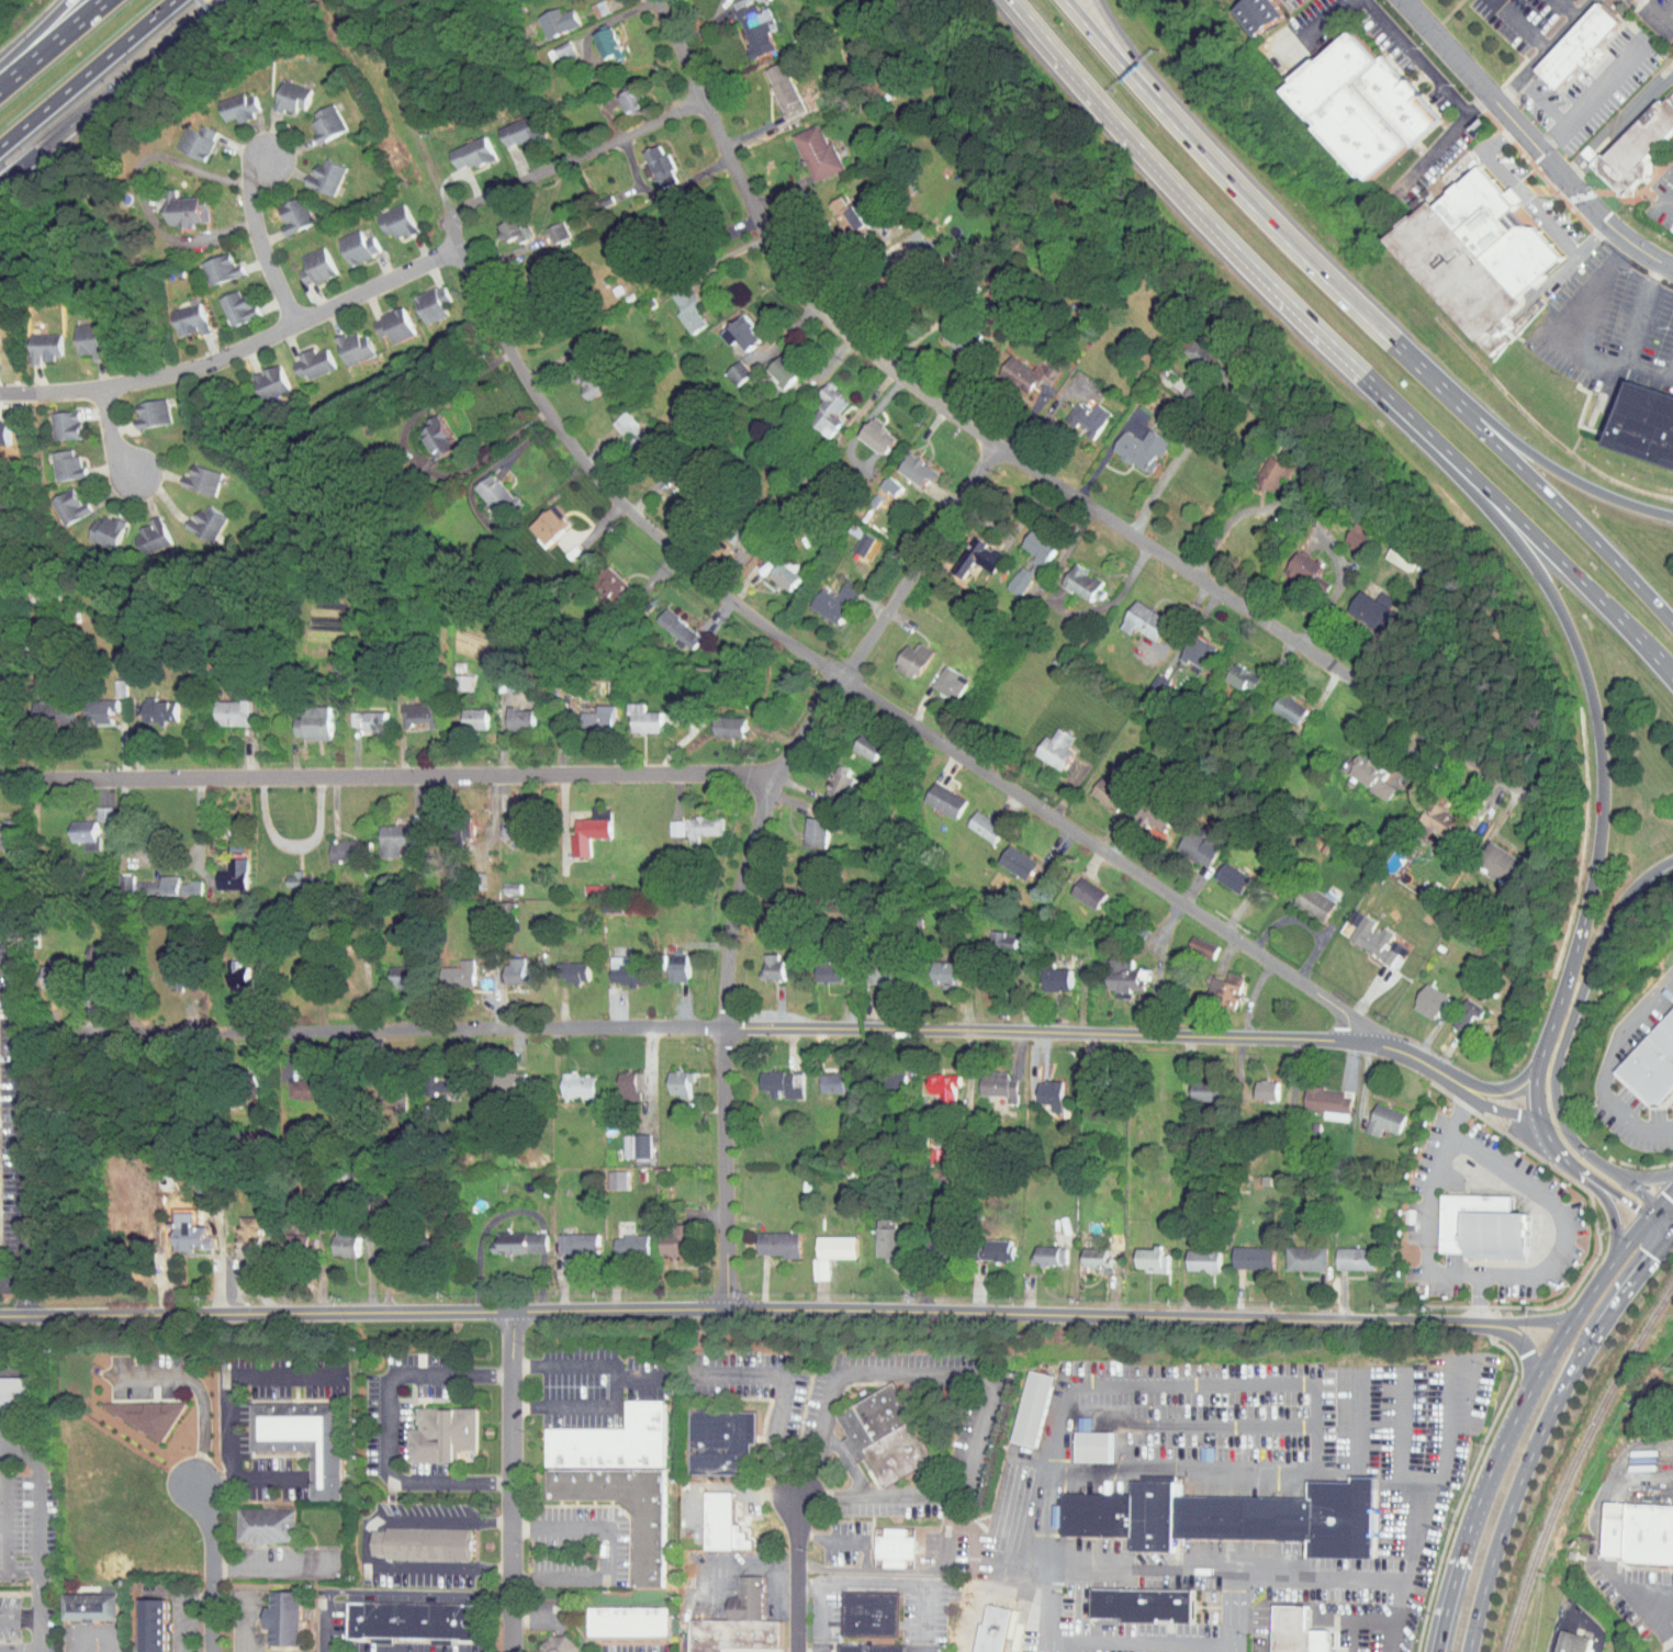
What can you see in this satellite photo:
building: (587, 3)
road: (1568, 8)
building: (544, 14)
building: (1261, 14)
road: (1657, 15)
road: (603, 22)
building: (743, 22)
road: (1522, 23)
road: (1321, 25)
road: (34, 33)
building: (595, 36)
building: (1567, 38)
building: (1669, 38)
road: (1048, 41)
road: (52, 43)
road: (1036, 45)
building: (1580, 46)
road: (1543, 50)
road: (1417, 56)
road: (1136, 63)
road: (1120, 64)
road: (86, 72)
road: (130, 75)
building: (771, 83)
building: (279, 89)
building: (618, 94)
road: (1591, 95)
building: (226, 100)
road: (1541, 102)
building: (1362, 104)
building: (313, 115)
building: (507, 124)
road: (1616, 125)
building: (183, 135)
building: (1626, 137)
road: (1442, 141)
road: (1530, 143)
road: (1607, 143)
building: (458, 146)
building: (805, 146)
road: (577, 155)
road: (1594, 157)
building: (647, 158)
road: (20, 166)
building: (312, 170)
road: (1579, 173)
road: (137, 190)
road: (1668, 200)
building: (172, 203)
building: (281, 209)
building: (833, 209)
building: (382, 215)
building: (501, 223)
building: (544, 225)
road: (1220, 229)
road: (267, 238)
building: (345, 239)
building: (1481, 251)
road: (1305, 257)
building: (303, 259)
building: (207, 262)
building: (418, 296)
building: (223, 300)
building: (675, 301)
building: (176, 313)
building: (381, 318)
building: (728, 326)
building: (75, 333)
building: (942, 333)
building: (31, 340)
building: (341, 340)
building: (1186, 346)
building: (44, 347)
road: (239, 349)
road: (1601, 356)
building: (299, 357)
building: (770, 363)
building: (725, 366)
building: (1015, 366)
building: (576, 370)
road: (1646, 373)
building: (258, 375)
building: (816, 404)
building: (138, 406)
building: (1076, 411)
building: (52, 418)
building: (1648, 423)
building: (617, 424)
building: (65, 425)
building: (865, 429)
building: (425, 430)
building: (4, 434)
road: (111, 438)
building: (1130, 443)
road: (409, 457)
road: (1176, 457)
building: (53, 458)
building: (905, 463)
road: (1547, 463)
building: (66, 464)
road: (1029, 467)
building: (1258, 468)
building: (189, 473)
building: (484, 490)
road: (1497, 498)
building: (56, 499)
road: (1557, 503)
road: (1243, 513)
building: (192, 517)
building: (537, 517)
building: (91, 524)
building: (138, 529)
building: (1345, 529)
building: (851, 537)
building: (973, 550)
building: (1388, 551)
building: (1020, 553)
building: (1291, 561)
building: (774, 569)
building: (1069, 575)
building: (598, 576)
road: (1338, 584)
building: (822, 596)
building: (1360, 603)
building: (1132, 615)
building: (666, 621)
building: (1186, 644)
building: (900, 653)
road: (1650, 654)
building: (1232, 671)
building: (451, 676)
building: (937, 676)
building: (108, 682)
road: (866, 692)
building: (1277, 701)
building: (86, 704)
building: (147, 704)
building: (41, 705)
building: (220, 706)
building: (406, 708)
building: (586, 711)
building: (461, 712)
building: (507, 712)
building: (631, 712)
building: (356, 713)
road: (1598, 713)
building: (300, 718)
building: (715, 720)
building: (855, 740)
building: (1043, 742)
building: (1360, 769)
road: (390, 776)
building: (827, 777)
building: (1097, 785)
building: (933, 794)
building: (588, 806)
building: (91, 808)
building: (1142, 811)
building: (1429, 813)
building: (973, 819)
building: (663, 821)
building: (690, 821)
building: (498, 822)
building: (69, 824)
building: (802, 825)
building: (574, 828)
building: (382, 832)
building: (1186, 841)
building: (330, 844)
road: (755, 844)
road: (295, 847)
building: (1006, 855)
building: (1485, 856)
building: (220, 868)
building: (1220, 870)
building: (114, 875)
building: (285, 875)
building: (156, 880)
building: (498, 881)
building: (1076, 886)
building: (1302, 896)
building: (989, 934)
building: (1363, 934)
building: (1189, 941)
building: (80, 948)
building: (665, 962)
building: (760, 962)
building: (503, 964)
building: (560, 965)
building: (613, 965)
building: (816, 966)
building: (868, 966)
building: (932, 966)
building: (445, 967)
building: (223, 968)
building: (386, 969)
building: (38, 971)
building: (161, 971)
building: (1111, 971)
building: (1043, 973)
building: (1213, 982)
building: (1417, 996)
building: (1455, 1008)
road: (392, 1027)
road: (1066, 1032)
road: (1565, 1039)
road: (1607, 1064)
building: (1653, 1065)
building: (882, 1070)
road: (1436, 1072)
building: (495, 1074)
building: (666, 1076)
building: (822, 1076)
building: (770, 1078)
building: (986, 1078)
building: (428, 1079)
building: (931, 1079)
building: (565, 1080)
building: (617, 1080)
building: (291, 1082)
building: (1254, 1083)
building: (1194, 1085)
building: (1037, 1088)
road: (1507, 1091)
building: (1316, 1097)
road: (13, 1105)
building: (1372, 1113)
road: (1501, 1113)
building: (624, 1139)
building: (605, 1173)
road: (1598, 1184)
road: (1640, 1196)
traffic signals: (1668, 1198)
road: (1558, 1207)
traffic signals: (1635, 1212)
road: (1610, 1216)
building: (1483, 1226)
building: (177, 1228)
building: (237, 1229)
road: (1424, 1229)
building: (662, 1233)
building: (874, 1234)
building: (287, 1236)
building: (506, 1236)
building: (332, 1237)
building: (564, 1237)
building: (766, 1237)
building: (618, 1238)
building: (925, 1239)
building: (980, 1244)
building: (820, 1247)
building: (1037, 1249)
building: (1083, 1251)
building: (1240, 1251)
building: (1293, 1252)
building: (1343, 1252)
building: (1137, 1254)
building: (1190, 1255)
traffic signals: (1653, 1257)
road: (9, 1280)
road: (622, 1310)
road: (256, 1312)
road: (1118, 1317)
road: (1538, 1325)
road: (1531, 1356)
road: (232, 1374)
road: (705, 1375)
road: (987, 1376)
road: (1268, 1384)
building: (8, 1385)
road: (202, 1400)
building: (1019, 1402)
road: (581, 1405)
road: (1524, 1406)
building: (1032, 1408)
road: (1188, 1420)
road: (1355, 1423)
road: (1396, 1424)
road: (385, 1426)
road: (1547, 1430)
building: (884, 1432)
building: (442, 1434)
building: (303, 1437)
building: (614, 1440)
building: (1080, 1440)
building: (721, 1441)
building: (1096, 1446)
road: (11, 1449)
road: (844, 1461)
railway: (1575, 1464)
road: (1368, 1471)
road: (1428, 1471)
road: (1614, 1473)
road: (249, 1477)
road: (513, 1482)
road: (720, 1488)
road: (2, 1510)
building: (1226, 1518)
building: (723, 1524)
building: (268, 1526)
road: (34, 1530)
building: (1639, 1532)
road: (366, 1541)
building: (424, 1542)
road: (841, 1542)
building: (896, 1546)
building: (647, 1550)
road: (1597, 1551)
road: (603, 1552)
road: (279, 1563)
road: (213, 1565)
road: (882, 1569)
road: (1142, 1571)
road: (795, 1572)
road: (1335, 1580)
road: (884, 1585)
road: (981, 1585)
road: (407, 1593)
building: (749, 1598)
road: (1653, 1598)
building: (1143, 1604)
road: (179, 1605)
building: (93, 1606)
road: (1639, 1607)
road: (823, 1610)
building: (270, 1612)
road: (35, 1615)
building: (287, 1618)
road: (1359, 1618)
building: (138, 1620)
building: (874, 1621)
road: (250, 1622)
building: (412, 1622)
building: (628, 1623)
building: (154, 1625)
building: (979, 1626)
road: (325, 1628)
road: (96, 1630)
building: (1299, 1631)
building: (737, 1634)
road: (1394, 1634)
building: (1560, 1640)
building: (544, 1642)
road: (1141, 1643)
road: (1266, 1645)
road: (1209, 1649)
road: (18, 1650)
road: (809, 1651)

